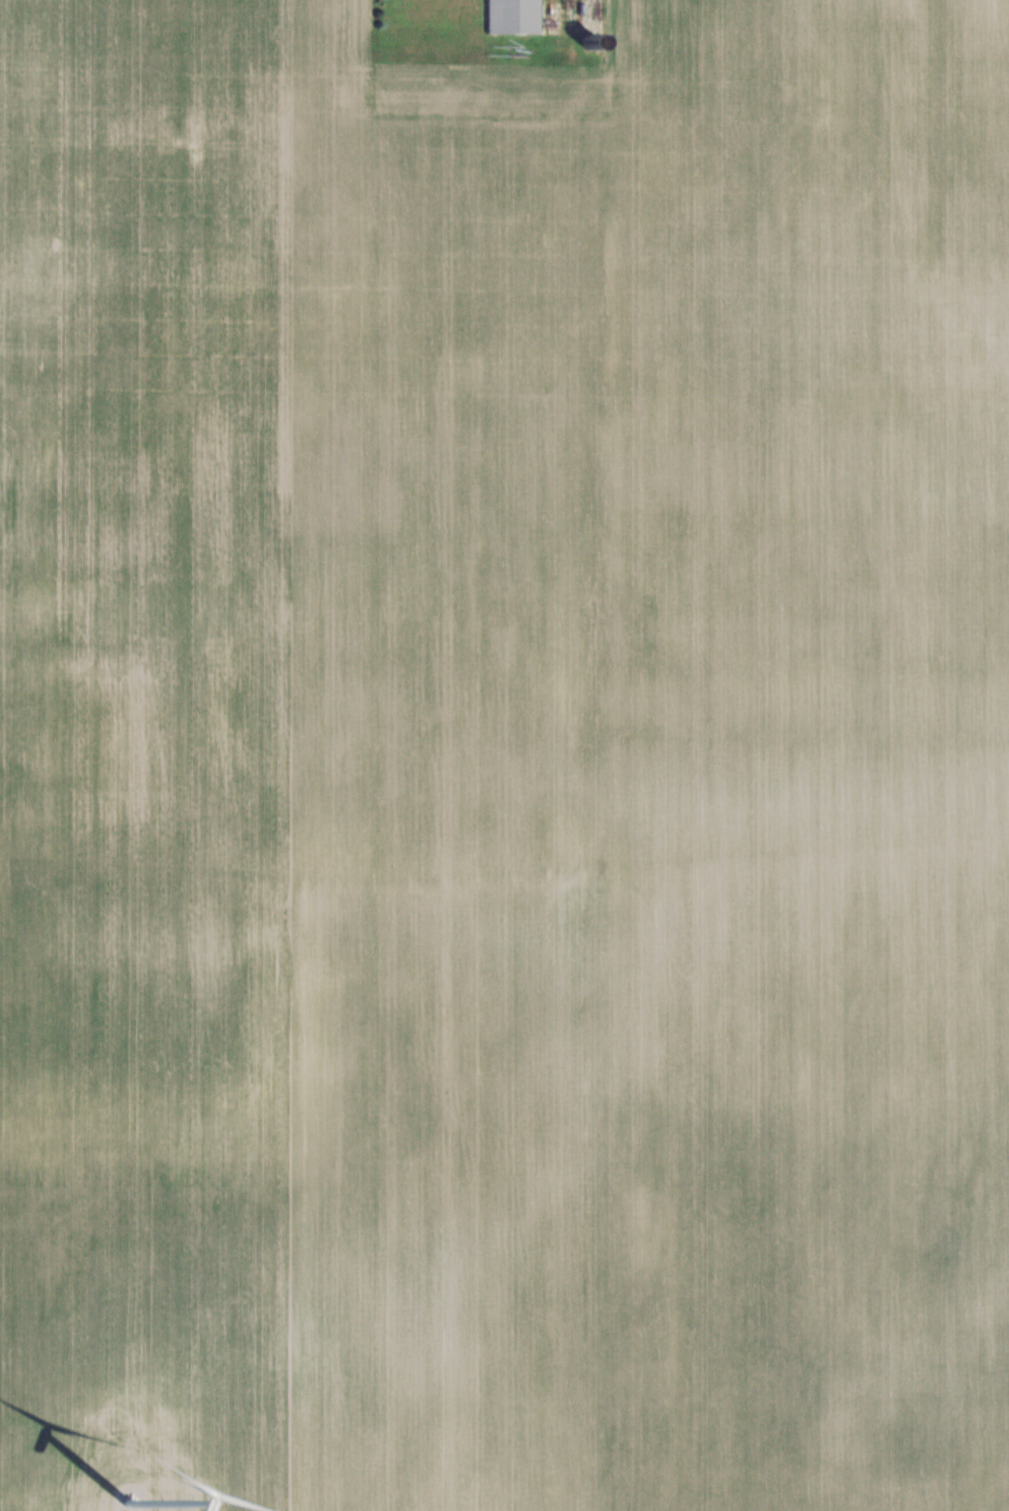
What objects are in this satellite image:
building: (515, 16)
wind turbine: (110, 1477)

